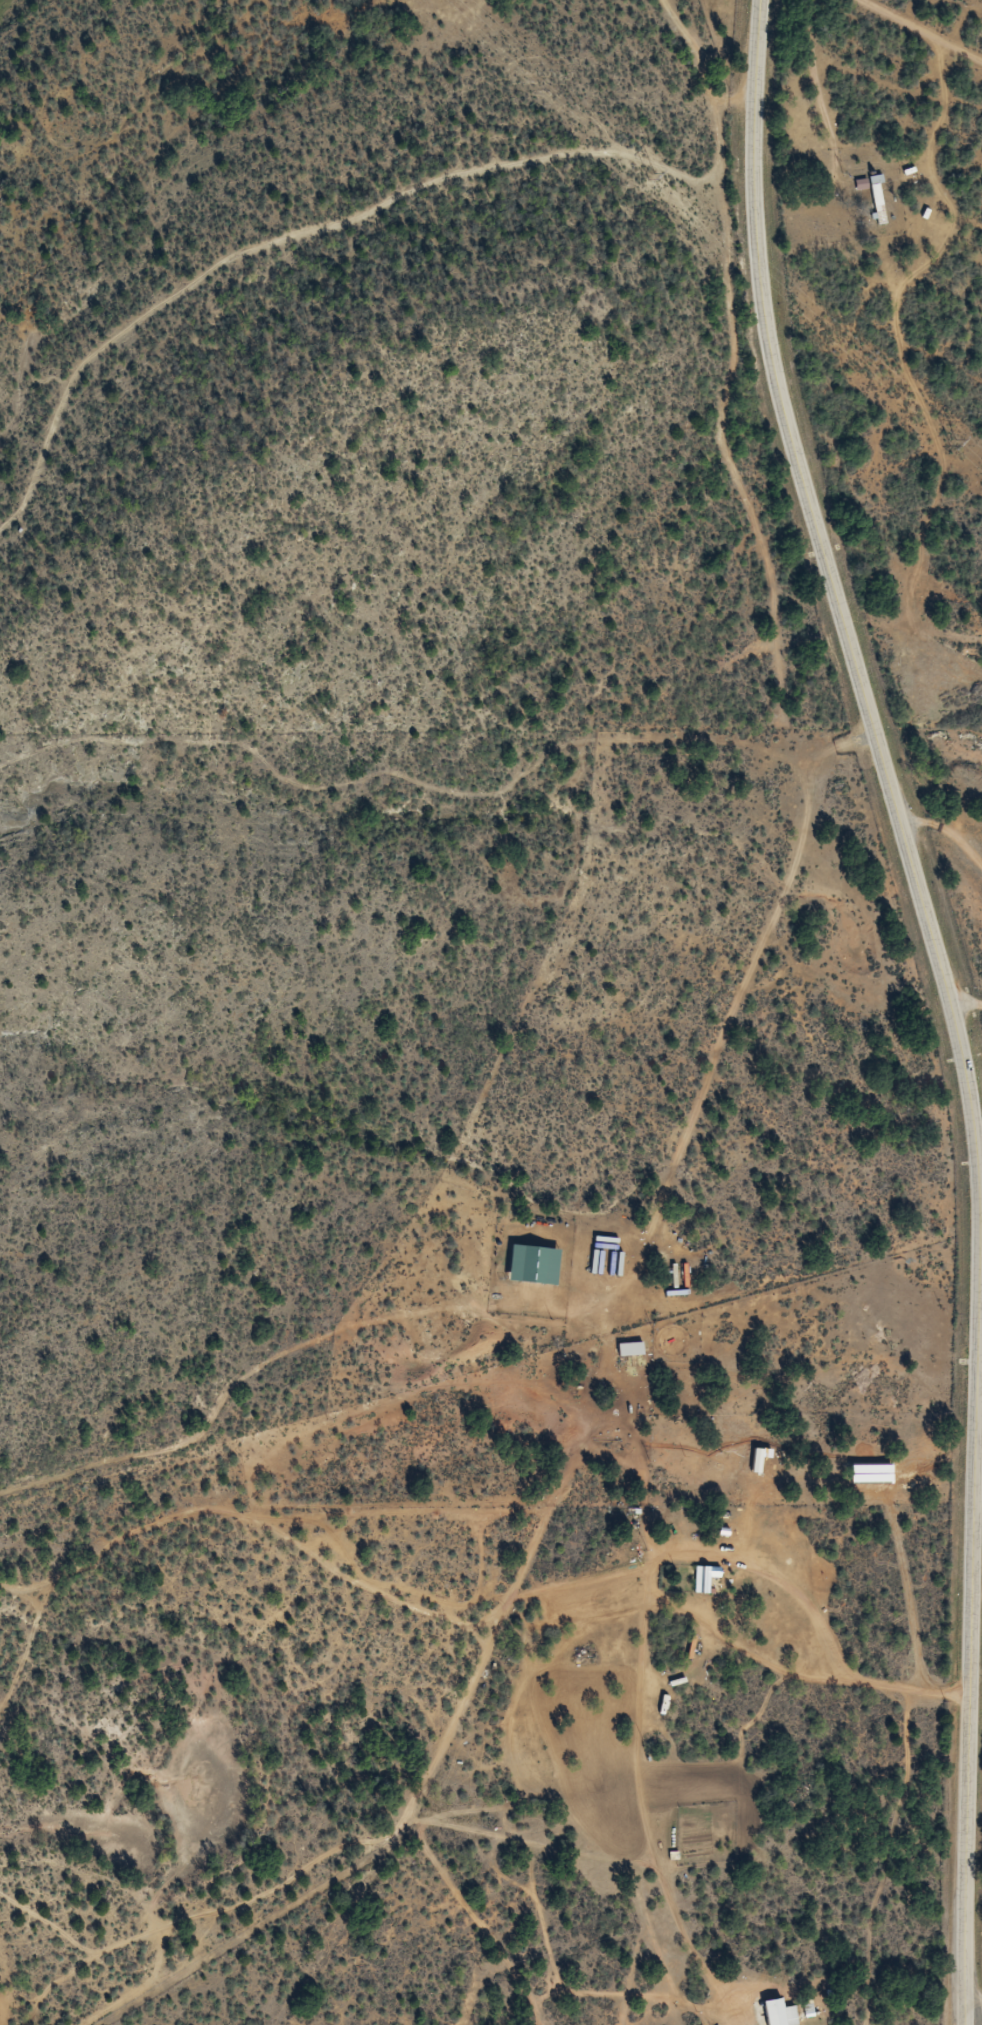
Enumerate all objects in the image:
road: (874, 26)
power tower: (642, 178)
building: (877, 201)
power tower: (948, 440)
road: (965, 953)
road: (949, 1001)
building: (530, 1264)
building: (627, 1349)
road: (623, 1407)
road: (257, 1562)
building: (704, 1578)
building: (777, 2013)

